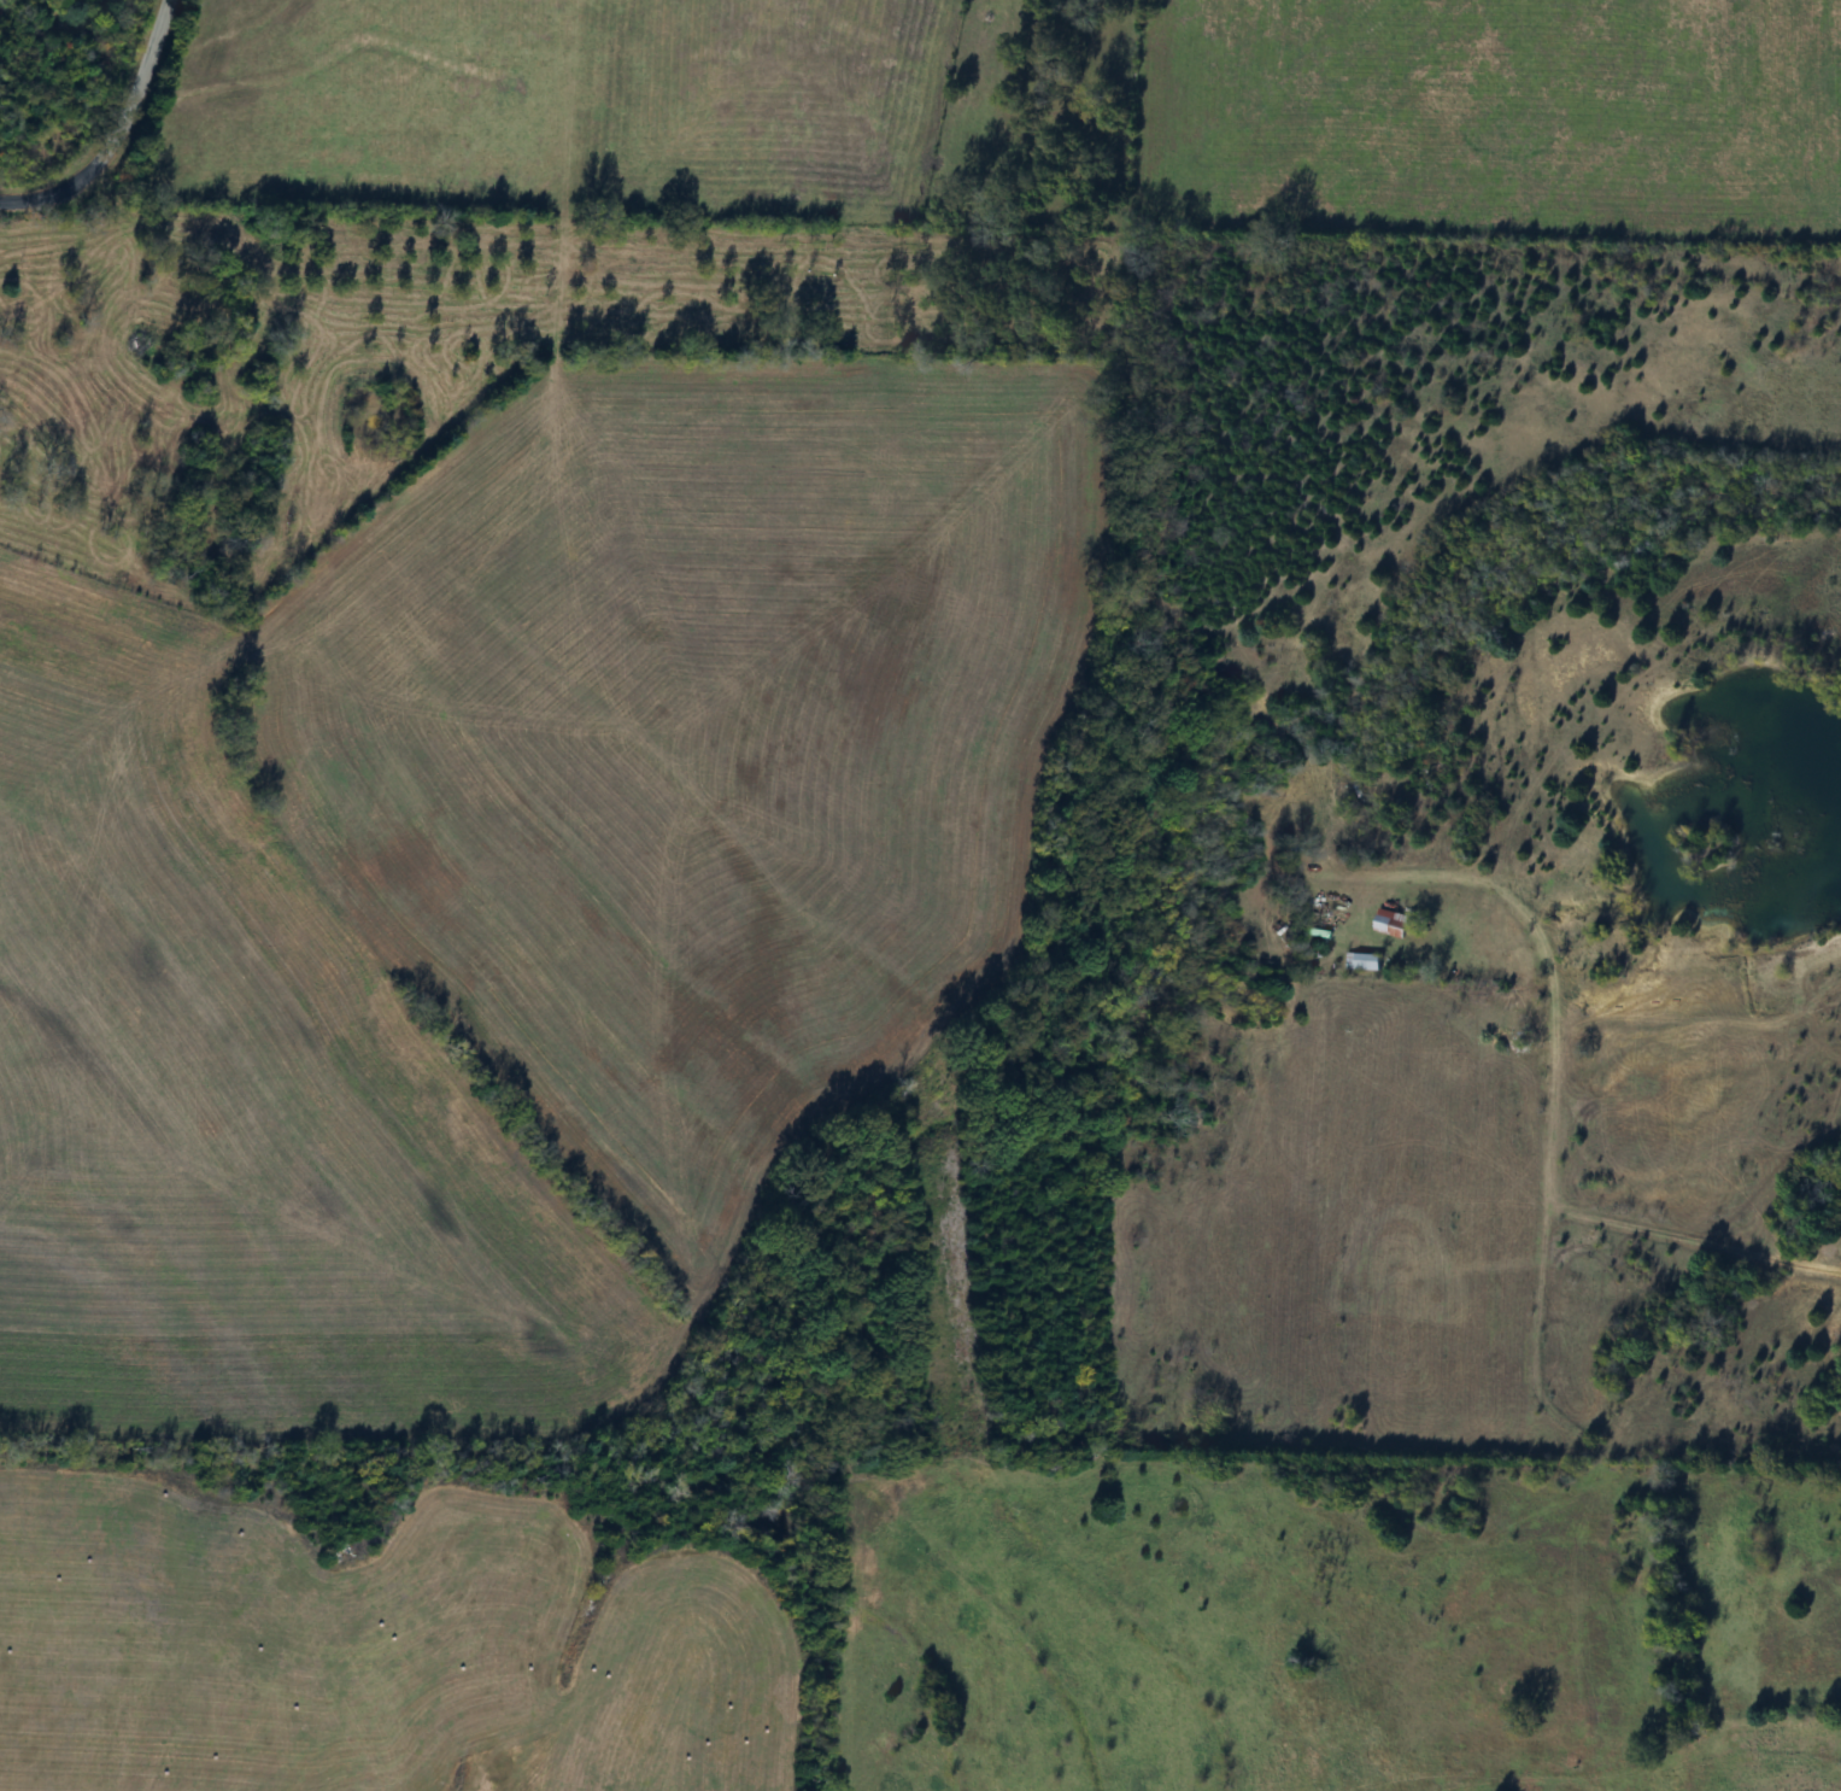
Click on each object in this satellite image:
road: (159, 33)
road: (99, 164)
building: (1388, 924)

